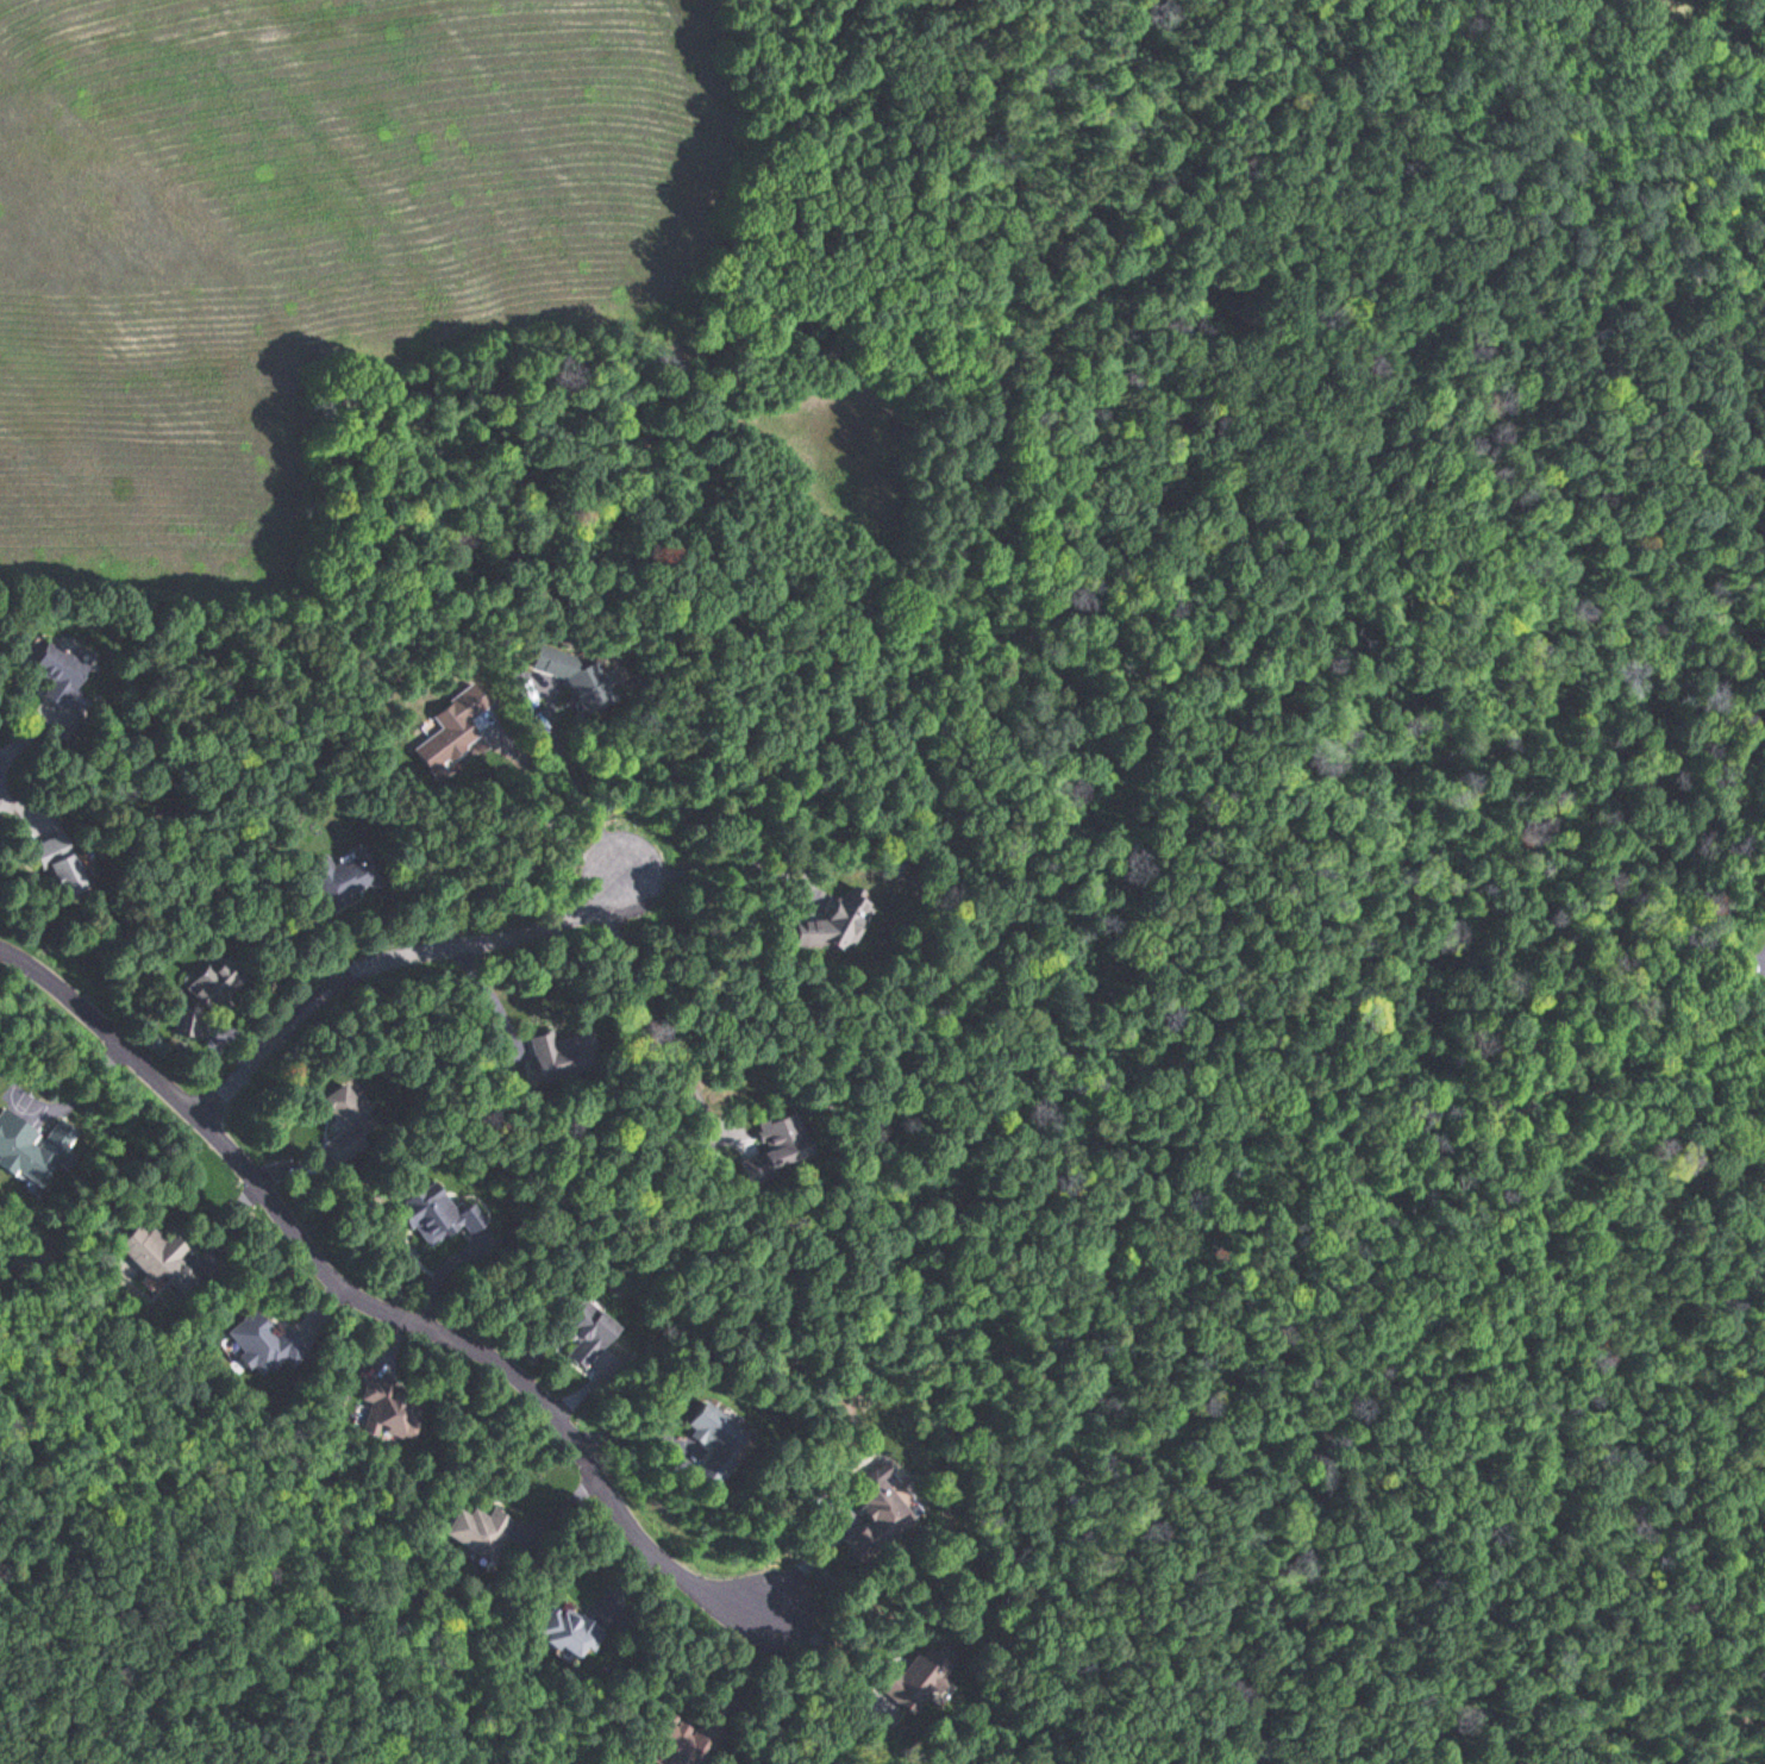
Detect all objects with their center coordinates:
building: (56, 677)
building: (572, 680)
building: (444, 738)
building: (57, 864)
building: (342, 877)
building: (834, 924)
road: (383, 961)
building: (213, 984)
building: (183, 1021)
building: (558, 1056)
building: (344, 1119)
building: (25, 1156)
building: (434, 1214)
building: (149, 1251)
road: (1140, 1274)
road: (370, 1307)
building: (583, 1332)
building: (262, 1344)
building: (387, 1413)
building: (714, 1440)
building: (878, 1514)
building: (476, 1531)
building: (565, 1631)
building: (915, 1677)
building: (680, 1739)

